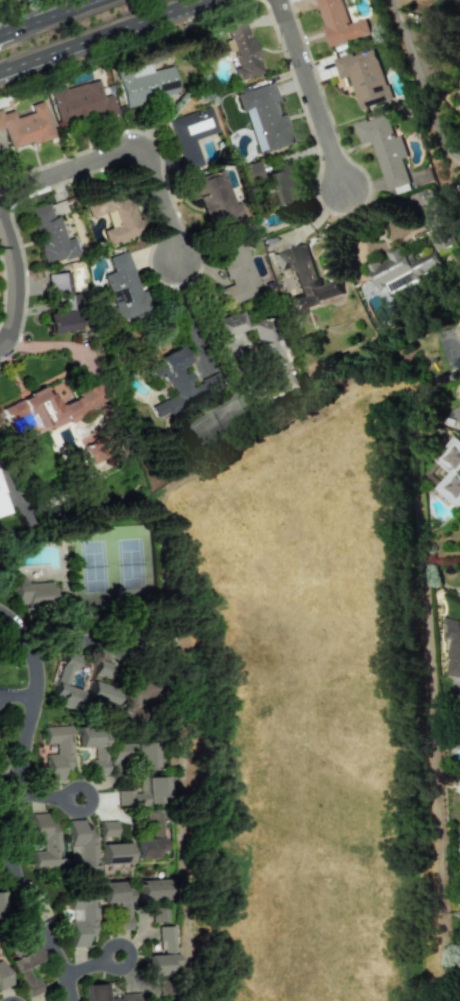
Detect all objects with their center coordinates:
road: (179, 4)
road: (54, 16)
building: (340, 23)
road: (5, 34)
road: (84, 39)
building: (243, 49)
building: (364, 77)
building: (146, 83)
road: (420, 83)
road: (307, 92)
building: (81, 102)
building: (264, 118)
building: (26, 126)
road: (127, 133)
building: (192, 134)
building: (385, 149)
building: (284, 186)
building: (215, 198)
building: (116, 215)
building: (51, 235)
building: (411, 263)
building: (238, 274)
road: (13, 280)
building: (308, 281)
building: (124, 287)
building: (63, 305)
road: (57, 344)
building: (261, 346)
building: (174, 383)
building: (49, 409)
building: (457, 413)
building: (450, 471)
building: (2, 503)
building: (32, 593)
road: (75, 640)
building: (453, 649)
building: (102, 669)
building: (66, 683)
road: (17, 694)
building: (99, 694)
building: (130, 699)
building: (93, 746)
building: (57, 751)
building: (117, 751)
building: (142, 755)
building: (0, 771)
building: (142, 792)
road: (46, 793)
road: (11, 804)
building: (106, 828)
building: (148, 837)
building: (44, 841)
building: (82, 844)
building: (113, 853)
road: (5, 860)
building: (148, 889)
building: (116, 902)
building: (1, 903)
building: (156, 914)
building: (82, 917)
building: (162, 953)
road: (91, 964)
building: (26, 967)
building: (3, 977)
building: (104, 994)

